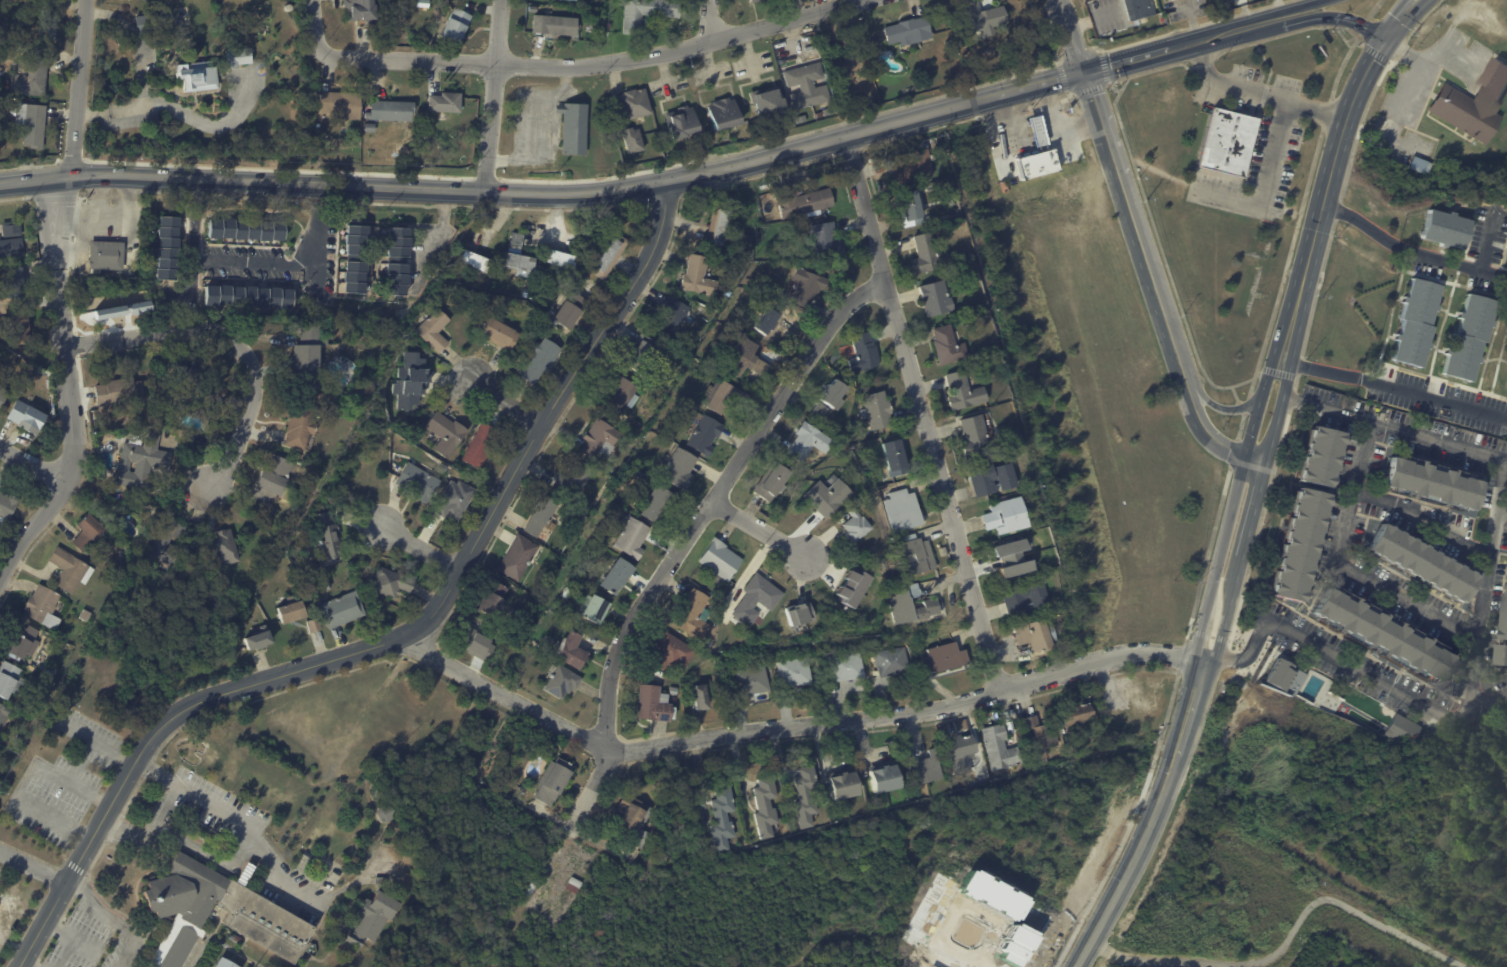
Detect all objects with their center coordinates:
building: (573, 0)
building: (1173, 0)
building: (756, 1)
building: (1139, 8)
road: (1300, 8)
building: (360, 10)
building: (648, 12)
building: (985, 17)
road: (1332, 18)
road: (1401, 19)
building: (47, 21)
road: (707, 22)
road: (1268, 23)
building: (153, 24)
building: (555, 25)
road: (314, 26)
building: (609, 26)
building: (455, 28)
building: (960, 30)
building: (909, 31)
traffic signals: (1384, 39)
building: (950, 45)
building: (238, 57)
road: (596, 66)
traffic signals: (1084, 72)
road: (140, 76)
building: (196, 76)
building: (30, 78)
building: (808, 85)
road: (78, 87)
road: (494, 94)
road: (1260, 94)
building: (769, 102)
building: (446, 103)
building: (340, 104)
building: (635, 104)
building: (1474, 105)
building: (391, 110)
road: (1045, 110)
building: (723, 113)
road: (1015, 116)
road: (1052, 119)
building: (682, 123)
road: (212, 124)
road: (532, 124)
road: (1071, 124)
building: (1430, 124)
building: (31, 125)
building: (370, 127)
building: (574, 128)
road: (1040, 133)
building: (633, 140)
building: (1230, 143)
building: (1040, 149)
building: (1416, 165)
building: (914, 168)
building: (1429, 169)
road: (1271, 179)
road: (640, 191)
road: (1327, 191)
building: (953, 195)
building: (803, 202)
building: (911, 209)
road: (41, 221)
building: (738, 222)
building: (960, 224)
building: (721, 227)
building: (11, 229)
building: (1444, 229)
building: (246, 231)
road: (436, 236)
road: (1486, 239)
building: (826, 240)
building: (11, 248)
road: (1142, 248)
building: (168, 249)
road: (1411, 249)
building: (105, 255)
building: (607, 255)
building: (928, 255)
building: (518, 257)
building: (356, 259)
building: (560, 259)
building: (472, 261)
building: (398, 262)
road: (253, 264)
building: (699, 277)
building: (14, 283)
building: (809, 287)
building: (249, 297)
building: (937, 299)
building: (309, 300)
building: (571, 311)
building: (675, 316)
building: (767, 321)
building: (1415, 323)
road: (60, 328)
building: (17, 329)
building: (435, 330)
building: (500, 333)
building: (1468, 338)
road: (227, 340)
building: (949, 345)
building: (643, 354)
building: (863, 354)
building: (307, 360)
building: (749, 360)
building: (539, 361)
building: (409, 381)
building: (1506, 383)
building: (193, 385)
road: (1393, 385)
building: (119, 392)
building: (964, 392)
building: (2, 395)
building: (835, 395)
building: (620, 396)
road: (507, 397)
building: (727, 398)
road: (1259, 402)
road: (1218, 406)
building: (878, 411)
building: (822, 412)
building: (202, 414)
road: (923, 416)
building: (25, 418)
building: (95, 418)
building: (298, 425)
building: (637, 425)
building: (105, 428)
building: (445, 434)
building: (705, 435)
building: (975, 438)
building: (685, 439)
building: (600, 440)
building: (810, 442)
building: (481, 446)
building: (877, 447)
building: (1322, 457)
building: (894, 459)
building: (141, 463)
road: (33, 465)
building: (680, 470)
building: (275, 476)
building: (994, 479)
road: (1499, 481)
building: (418, 482)
building: (575, 482)
building: (1429, 482)
building: (773, 483)
building: (828, 496)
building: (454, 501)
road: (1501, 504)
building: (7, 506)
building: (660, 506)
building: (903, 510)
building: (542, 517)
building: (1007, 517)
road: (1421, 520)
road: (30, 526)
road: (759, 530)
building: (857, 530)
building: (87, 533)
road: (691, 533)
road: (422, 535)
building: (326, 537)
building: (634, 539)
building: (165, 542)
building: (1299, 545)
building: (223, 548)
building: (915, 555)
building: (519, 558)
building: (721, 560)
building: (1420, 563)
road: (1344, 567)
building: (69, 571)
building: (618, 578)
building: (391, 583)
building: (320, 585)
building: (328, 585)
building: (854, 589)
building: (568, 593)
building: (1039, 596)
building: (1017, 599)
building: (757, 600)
building: (495, 602)
building: (900, 604)
building: (42, 607)
road: (1227, 608)
building: (342, 610)
building: (594, 610)
building: (797, 613)
building: (292, 614)
building: (85, 616)
building: (694, 616)
building: (1506, 625)
building: (314, 626)
building: (1381, 634)
building: (1038, 636)
building: (259, 639)
building: (23, 643)
road: (395, 643)
building: (710, 643)
building: (483, 647)
road: (1320, 647)
building: (1504, 650)
building: (572, 653)
building: (672, 653)
building: (943, 657)
building: (892, 662)
building: (848, 667)
building: (797, 672)
building: (1283, 674)
building: (10, 681)
building: (754, 681)
building: (562, 683)
road: (1195, 687)
building: (674, 692)
building: (701, 698)
road: (1487, 700)
building: (1328, 703)
building: (655, 707)
building: (3, 716)
building: (1081, 721)
road: (792, 728)
building: (1401, 731)
building: (1042, 735)
building: (1104, 740)
road: (97, 743)
building: (1001, 748)
building: (963, 757)
road: (81, 762)
building: (926, 768)
building: (500, 775)
building: (884, 778)
building: (554, 780)
road: (26, 781)
parking lot: (66, 782)
road: (72, 784)
building: (844, 785)
building: (805, 796)
road: (214, 806)
parking lot: (217, 806)
building: (767, 807)
building: (675, 808)
road: (164, 810)
building: (385, 812)
road: (52, 818)
building: (722, 820)
building: (630, 821)
road: (242, 843)
road: (1140, 844)
road: (32, 866)
road: (1275, 874)
building: (380, 880)
building: (576, 882)
building: (531, 890)
building: (177, 907)
road: (110, 915)
building: (371, 918)
building: (552, 922)
parking lot: (95, 936)
road: (65, 937)
road: (1286, 938)
building: (236, 939)
building: (250, 947)
road: (27, 962)
building: (221, 963)
road: (1265, 963)

